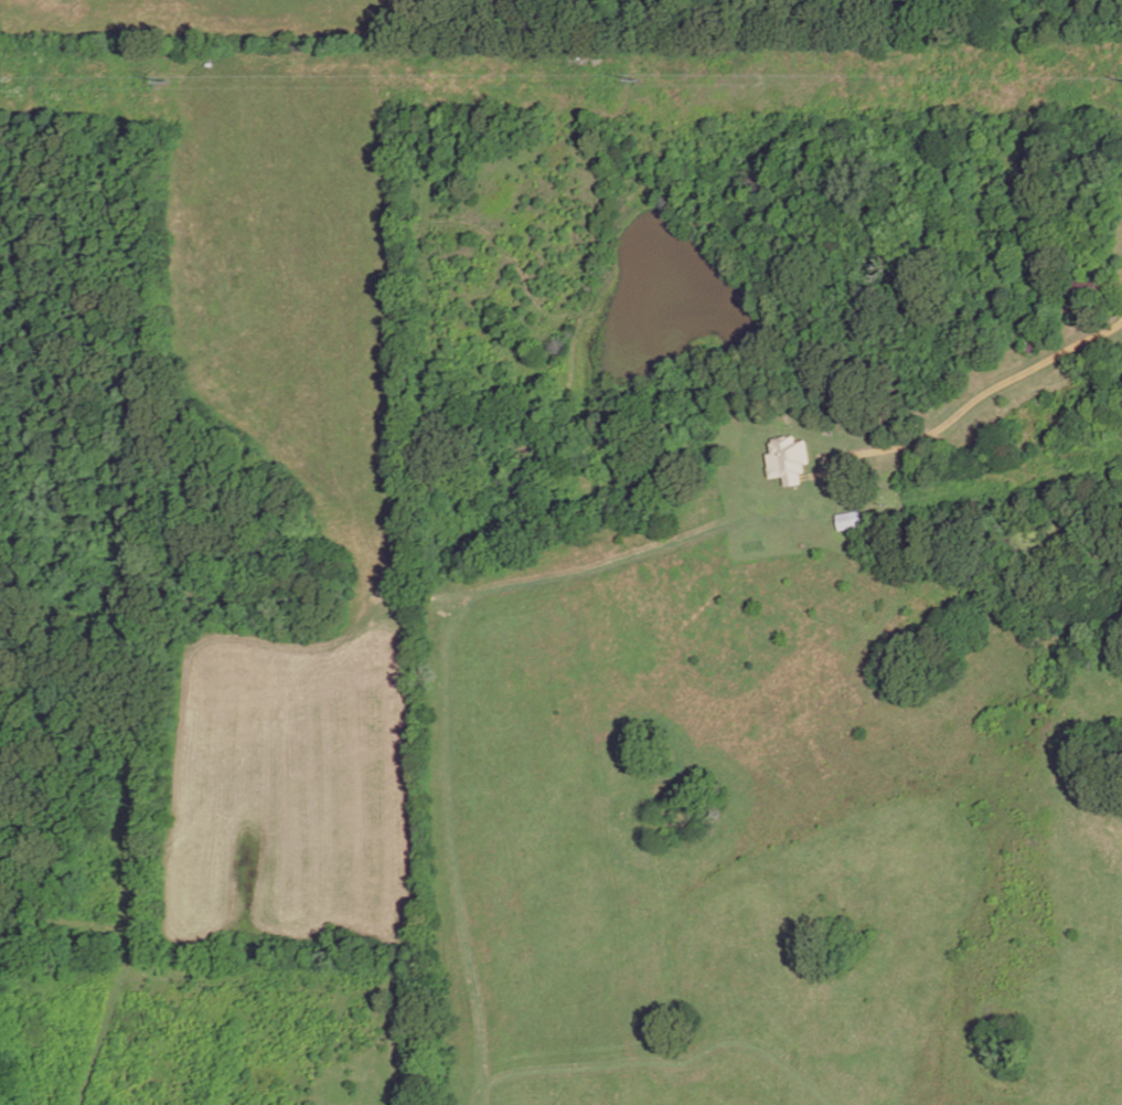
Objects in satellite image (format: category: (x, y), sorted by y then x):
building: (1086, 290)
building: (788, 459)
building: (845, 518)
road: (484, 598)

